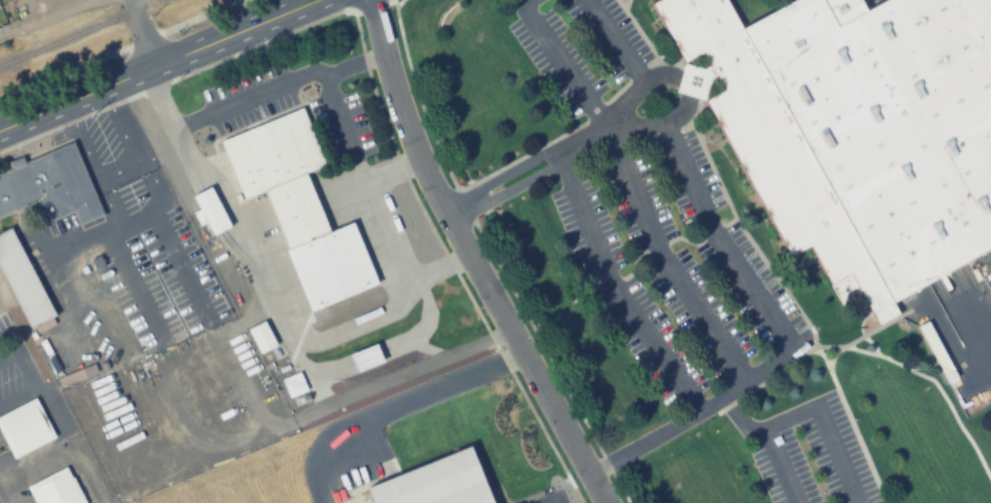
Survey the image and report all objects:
railway: (76, 32)
road: (144, 32)
road: (613, 40)
road: (159, 64)
road: (684, 85)
road: (249, 102)
building: (853, 129)
road: (355, 157)
road: (116, 169)
building: (49, 185)
road: (630, 188)
building: (298, 206)
building: (210, 210)
road: (138, 215)
road: (57, 252)
road: (472, 258)
road: (183, 264)
building: (22, 281)
road: (135, 285)
road: (608, 287)
road: (968, 316)
building: (262, 337)
road: (783, 338)
road: (8, 356)
building: (364, 358)
road: (27, 375)
building: (294, 385)
road: (739, 415)
building: (23, 427)
road: (825, 429)
road: (778, 464)
building: (435, 481)
building: (55, 488)
road: (559, 499)
building: (519, 502)

